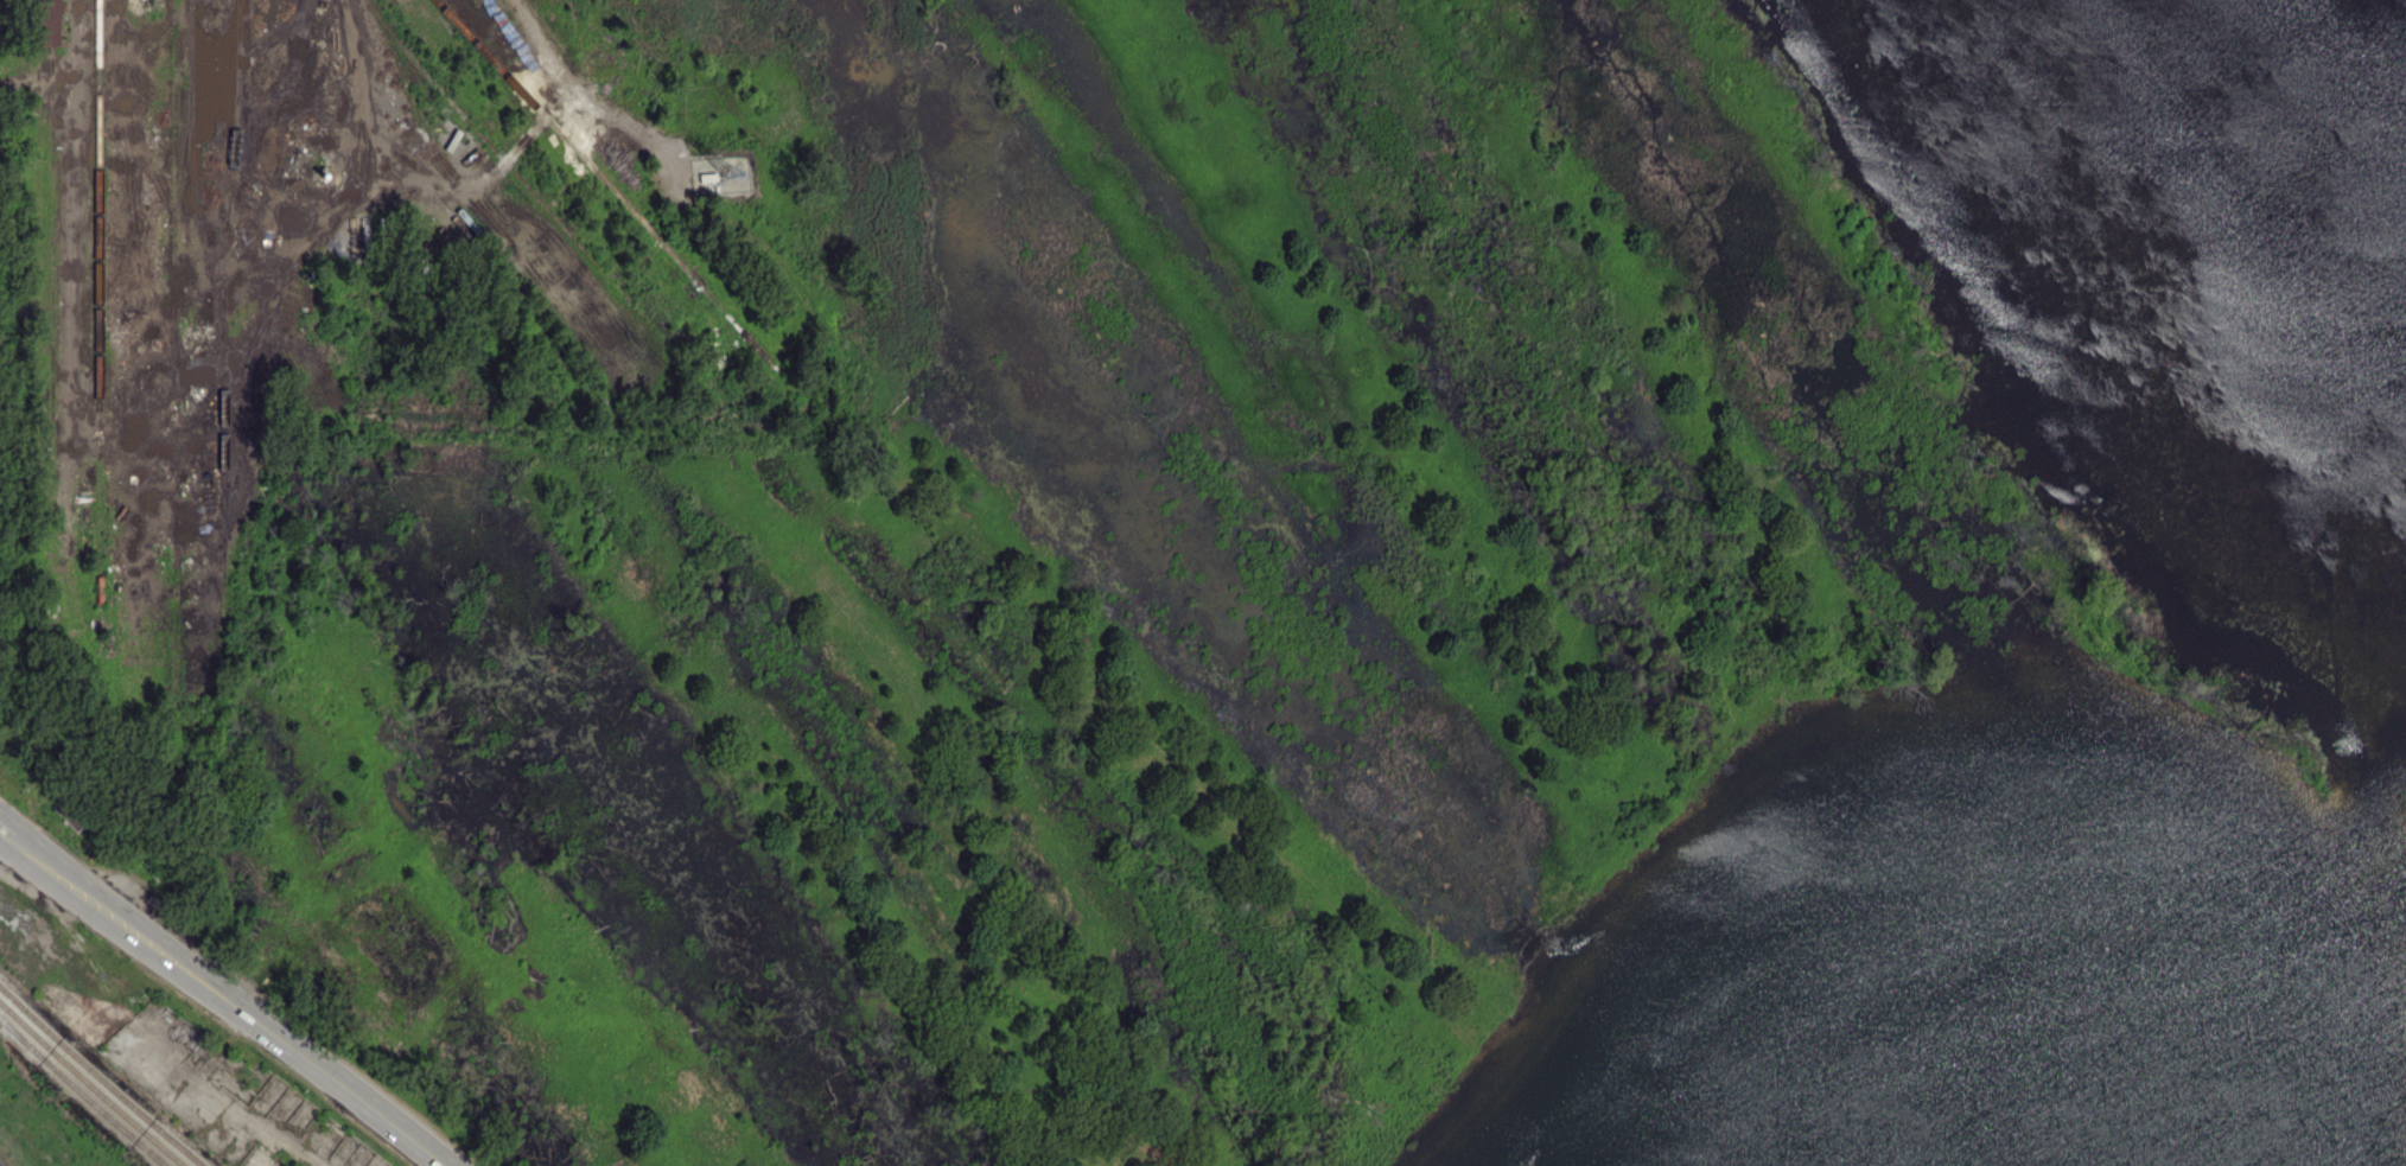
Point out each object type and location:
building: (43, 23)
railway: (575, 25)
railway: (112, 27)
railway: (256, 113)
railway: (520, 178)
building: (709, 179)
railway: (607, 184)
railway: (195, 195)
railway: (38, 209)
railway: (52, 254)
railway: (224, 346)
railway: (100, 348)
railway: (176, 391)
road: (6, 832)
road: (229, 1002)
railway: (98, 1078)
railway: (90, 1085)
railway: (81, 1092)

